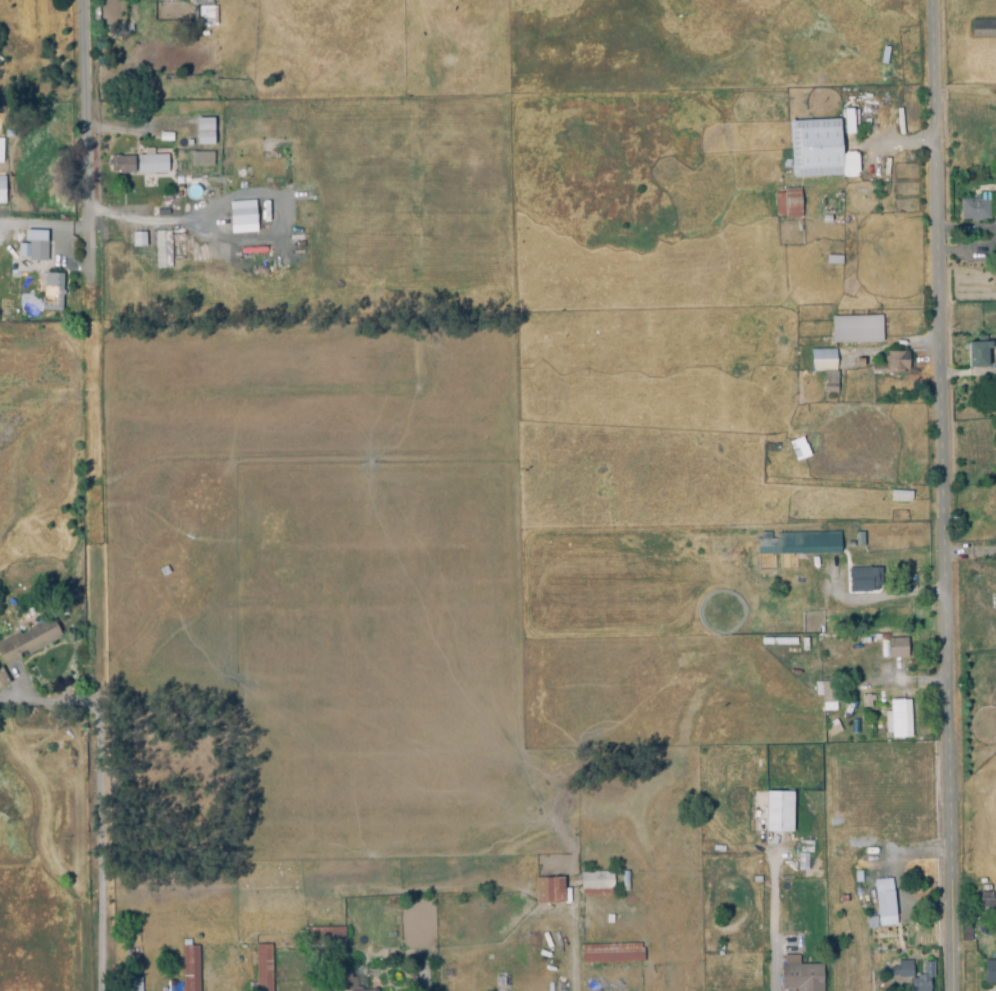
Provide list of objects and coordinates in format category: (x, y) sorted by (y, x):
building: (208, 9)
building: (983, 29)
building: (847, 123)
building: (203, 124)
building: (167, 138)
road: (895, 144)
building: (0, 149)
building: (814, 149)
building: (201, 158)
road: (89, 161)
building: (121, 165)
building: (153, 165)
building: (1, 189)
building: (787, 204)
building: (977, 208)
building: (161, 214)
building: (241, 216)
building: (825, 220)
road: (990, 234)
building: (138, 238)
building: (995, 241)
building: (35, 246)
building: (162, 252)
building: (836, 261)
building: (53, 293)
building: (860, 332)
building: (981, 353)
building: (821, 361)
building: (859, 363)
building: (891, 364)
road: (971, 371)
building: (829, 383)
building: (971, 402)
building: (798, 448)
building: (773, 475)
road: (949, 495)
building: (900, 497)
road: (99, 502)
building: (808, 545)
road: (973, 554)
building: (867, 582)
building: (822, 587)
road: (899, 595)
building: (778, 642)
building: (27, 643)
building: (897, 649)
building: (2, 680)
building: (828, 693)
building: (866, 701)
building: (898, 720)
building: (779, 813)
road: (104, 837)
building: (802, 860)
building: (623, 882)
building: (596, 885)
building: (881, 888)
building: (548, 892)
building: (885, 905)
building: (985, 907)
building: (872, 922)
road: (657, 924)
building: (323, 937)
building: (611, 954)
road: (777, 965)
building: (263, 968)
building: (190, 969)
building: (901, 970)
building: (990, 972)
building: (801, 977)
building: (922, 979)
building: (343, 983)
building: (132, 985)

